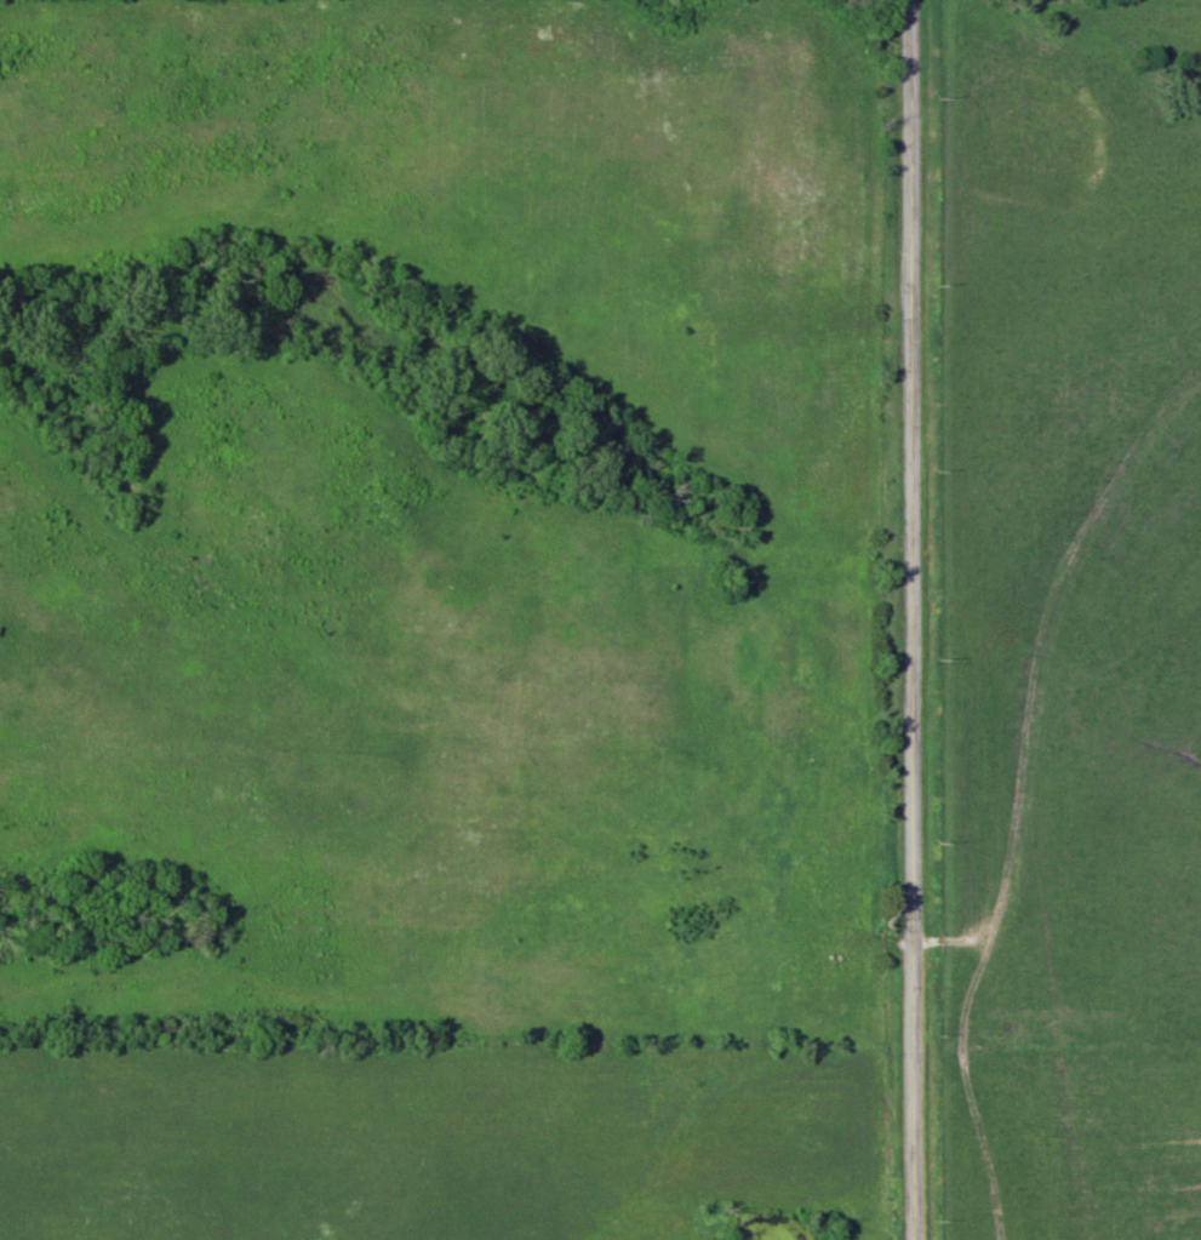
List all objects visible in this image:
road: (911, 619)

